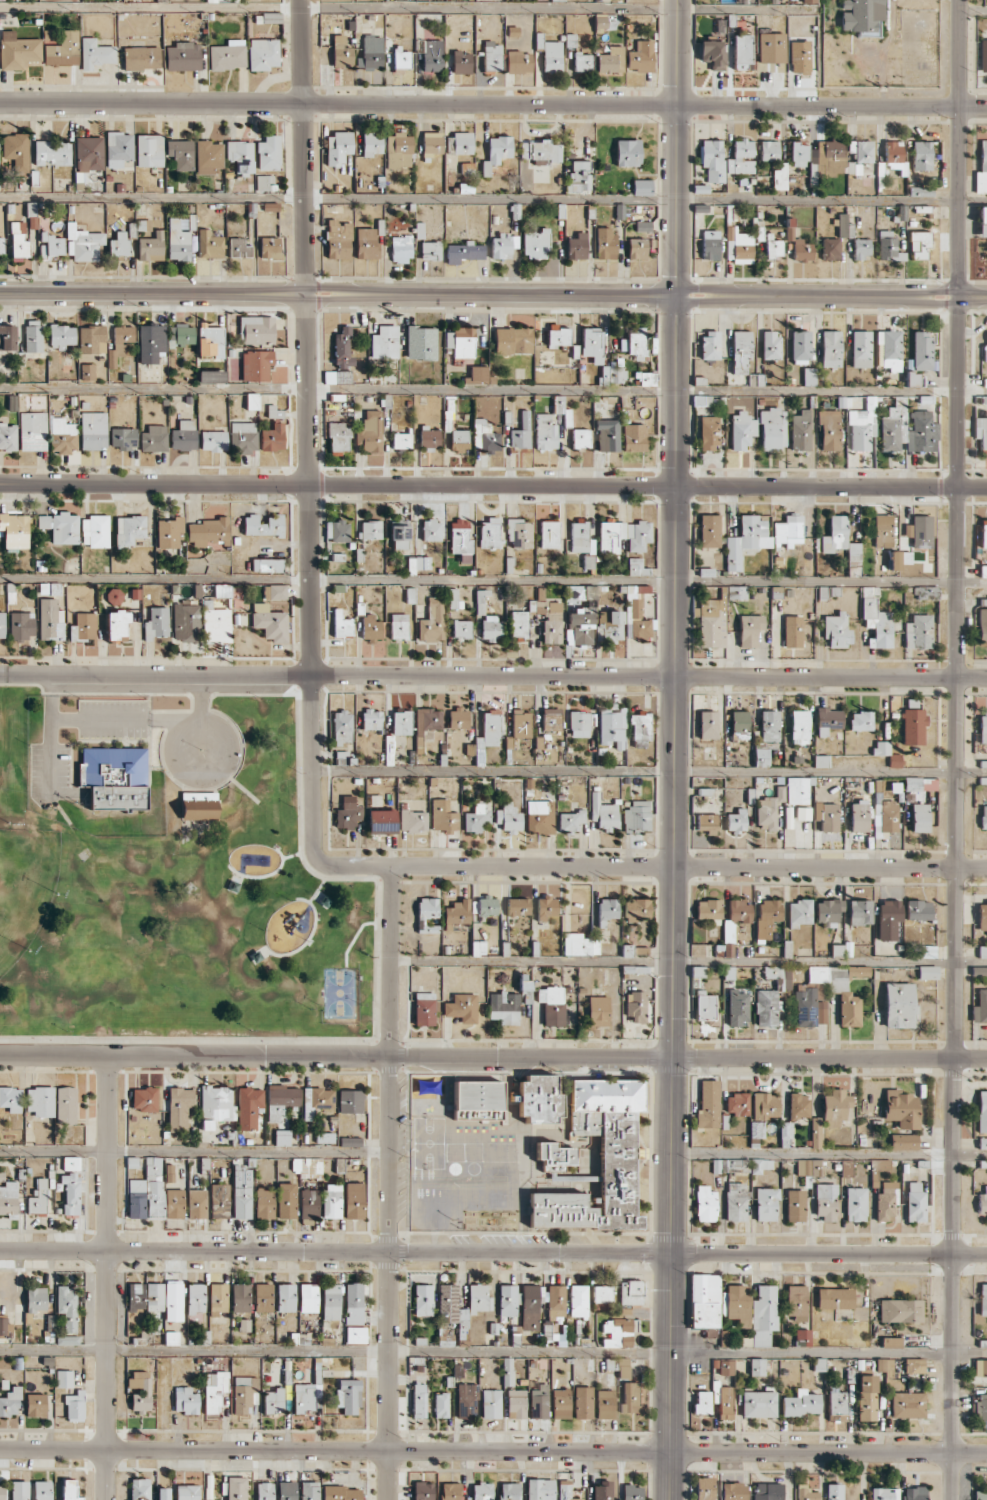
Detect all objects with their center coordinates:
building: (557, 0)
building: (210, 1)
road: (408, 9)
road: (973, 11)
building: (861, 17)
building: (600, 22)
building: (720, 26)
building: (513, 31)
building: (772, 47)
building: (63, 49)
building: (17, 50)
building: (341, 52)
building: (371, 52)
building: (742, 52)
building: (95, 53)
building: (712, 53)
building: (263, 54)
building: (550, 54)
building: (228, 55)
building: (432, 55)
building: (983, 55)
building: (183, 56)
building: (641, 56)
building: (492, 57)
building: (799, 57)
building: (141, 58)
building: (401, 59)
building: (611, 60)
building: (462, 62)
building: (519, 62)
building: (582, 62)
road: (493, 104)
building: (372, 143)
building: (432, 143)
building: (459, 143)
building: (337, 147)
road: (677, 147)
road: (958, 147)
building: (119, 149)
building: (16, 150)
building: (148, 150)
building: (769, 150)
building: (398, 151)
building: (540, 151)
building: (496, 152)
building: (52, 153)
building: (89, 153)
building: (268, 153)
building: (628, 153)
building: (180, 154)
building: (798, 154)
building: (859, 155)
building: (921, 155)
building: (208, 156)
building: (240, 156)
building: (833, 157)
building: (893, 157)
building: (741, 158)
building: (712, 160)
building: (816, 169)
building: (982, 169)
building: (780, 177)
building: (265, 182)
building: (578, 182)
building: (642, 187)
road: (493, 203)
building: (270, 206)
building: (619, 211)
building: (982, 221)
building: (643, 226)
building: (843, 226)
building: (338, 239)
building: (18, 241)
building: (178, 241)
building: (366, 243)
building: (535, 243)
building: (605, 243)
building: (83, 244)
building: (118, 244)
building: (209, 244)
building: (918, 244)
building: (1, 245)
building: (51, 245)
building: (710, 245)
building: (501, 246)
building: (738, 246)
building: (151, 247)
building: (269, 247)
building: (577, 247)
building: (888, 247)
building: (238, 248)
building: (637, 248)
building: (773, 248)
building: (830, 248)
building: (401, 249)
building: (861, 249)
building: (430, 250)
building: (801, 250)
building: (464, 252)
road: (338, 294)
road: (818, 295)
road: (973, 296)
building: (256, 330)
building: (180, 335)
building: (33, 336)
building: (62, 336)
building: (558, 336)
building: (986, 336)
building: (7, 337)
building: (91, 339)
building: (513, 340)
building: (210, 341)
building: (150, 342)
building: (384, 342)
building: (461, 342)
building: (421, 343)
building: (120, 344)
building: (591, 344)
building: (633, 345)
building: (710, 345)
building: (770, 345)
building: (801, 347)
building: (343, 349)
building: (830, 349)
building: (860, 349)
building: (890, 349)
building: (922, 350)
building: (740, 351)
building: (984, 353)
building: (256, 365)
building: (87, 371)
building: (478, 374)
building: (613, 375)
building: (212, 376)
building: (809, 376)
building: (336, 377)
building: (913, 379)
road: (493, 390)
road: (677, 390)
road: (956, 391)
building: (252, 401)
building: (12, 402)
building: (558, 404)
building: (274, 412)
building: (863, 425)
building: (773, 429)
building: (908, 429)
building: (93, 430)
building: (742, 430)
building: (800, 430)
building: (829, 430)
building: (33, 431)
building: (981, 431)
building: (370, 432)
building: (521, 432)
building: (545, 432)
building: (708, 433)
road: (308, 434)
building: (62, 435)
building: (184, 435)
building: (608, 435)
building: (8, 436)
building: (338, 436)
building: (243, 437)
building: (272, 437)
building: (429, 437)
building: (486, 437)
building: (633, 437)
building: (123, 438)
building: (154, 438)
building: (580, 438)
building: (213, 440)
building: (401, 440)
building: (459, 440)
road: (154, 483)
road: (492, 485)
road: (815, 487)
road: (970, 488)
building: (263, 525)
building: (60, 527)
building: (14, 530)
building: (129, 530)
building: (337, 530)
building: (370, 530)
building: (431, 530)
building: (708, 530)
building: (787, 530)
building: (882, 530)
building: (95, 531)
building: (921, 531)
building: (169, 532)
building: (208, 532)
building: (489, 533)
building: (399, 534)
building: (519, 534)
building: (549, 534)
building: (835, 534)
building: (623, 536)
building: (983, 536)
building: (581, 538)
building: (461, 540)
building: (745, 540)
building: (853, 552)
building: (894, 560)
building: (418, 562)
building: (589, 562)
building: (267, 565)
building: (636, 567)
building: (983, 571)
road: (493, 579)
building: (222, 590)
building: (275, 592)
building: (736, 592)
building: (926, 592)
building: (452, 598)
building: (480, 602)
building: (50, 619)
building: (875, 620)
building: (432, 621)
building: (186, 622)
building: (157, 623)
building: (216, 623)
building: (270, 623)
building: (711, 623)
building: (117, 624)
building: (341, 624)
building: (552, 624)
building: (2, 625)
building: (22, 625)
building: (518, 625)
building: (399, 626)
building: (609, 626)
building: (84, 627)
building: (371, 627)
building: (578, 627)
building: (491, 628)
building: (461, 629)
building: (749, 629)
building: (837, 630)
building: (792, 631)
building: (918, 632)
building: (982, 634)
road: (493, 675)
road: (147, 719)
building: (371, 719)
building: (458, 719)
building: (551, 719)
building: (428, 720)
building: (827, 720)
building: (860, 721)
building: (402, 722)
building: (521, 724)
building: (579, 724)
building: (708, 724)
building: (769, 726)
building: (799, 727)
building: (913, 727)
building: (342, 728)
building: (611, 728)
building: (640, 729)
building: (983, 729)
road: (180, 731)
building: (486, 737)
building: (881, 747)
road: (48, 753)
building: (761, 757)
building: (821, 761)
road: (649, 769)
building: (114, 777)
building: (920, 784)
building: (797, 790)
building: (198, 805)
building: (768, 809)
building: (604, 813)
building: (803, 813)
building: (348, 815)
building: (443, 816)
building: (826, 816)
building: (885, 816)
building: (983, 816)
building: (478, 817)
building: (508, 817)
building: (636, 817)
building: (859, 817)
building: (920, 817)
building: (413, 820)
building: (381, 821)
building: (572, 821)
building: (736, 821)
building: (707, 823)
road: (297, 853)
road: (655, 866)
park: (172, 874)
road: (265, 875)
road: (235, 877)
road: (319, 884)
park: (24, 887)
building: (484, 906)
building: (517, 906)
building: (546, 907)
building: (636, 909)
building: (708, 909)
building: (918, 910)
building: (607, 911)
building: (799, 912)
building: (859, 912)
building: (456, 913)
building: (826, 913)
building: (427, 914)
building: (982, 915)
building: (767, 917)
building: (888, 918)
road: (356, 934)
building: (728, 939)
road: (306, 940)
building: (576, 944)
building: (841, 950)
road: (686, 962)
building: (979, 971)
building: (927, 972)
building: (774, 975)
building: (840, 989)
park: (337, 992)
road: (672, 992)
road: (953, 994)
building: (552, 1005)
building: (899, 1005)
building: (635, 1006)
building: (704, 1006)
building: (462, 1007)
building: (504, 1007)
building: (737, 1007)
building: (809, 1007)
building: (980, 1007)
building: (424, 1008)
building: (766, 1008)
building: (598, 1011)
road: (493, 1056)
building: (11, 1098)
building: (144, 1099)
building: (538, 1099)
building: (281, 1100)
building: (477, 1100)
building: (40, 1101)
building: (316, 1101)
building: (350, 1101)
building: (708, 1103)
building: (737, 1104)
building: (66, 1105)
building: (216, 1105)
building: (798, 1105)
building: (765, 1106)
building: (180, 1107)
building: (249, 1107)
building: (834, 1108)
building: (901, 1109)
building: (982, 1111)
building: (757, 1130)
building: (815, 1133)
building: (785, 1134)
building: (282, 1137)
building: (325, 1137)
building: (350, 1141)
building: (903, 1142)
building: (982, 1143)
road: (194, 1151)
road: (829, 1152)
building: (553, 1156)
building: (71, 1163)
building: (616, 1163)
building: (984, 1163)
building: (761, 1165)
building: (803, 1167)
road: (388, 1182)
building: (154, 1187)
building: (242, 1191)
building: (70, 1193)
building: (8, 1198)
building: (136, 1198)
building: (38, 1199)
building: (218, 1200)
building: (286, 1200)
building: (332, 1201)
building: (354, 1201)
building: (735, 1201)
building: (825, 1201)
building: (885, 1202)
building: (915, 1202)
building: (982, 1202)
building: (174, 1203)
building: (196, 1203)
building: (264, 1203)
building: (309, 1204)
building: (705, 1204)
building: (766, 1204)
building: (855, 1204)
building: (795, 1205)
road: (493, 1252)
road: (107, 1277)
building: (631, 1293)
building: (602, 1294)
building: (136, 1296)
building: (154, 1296)
building: (240, 1297)
building: (263, 1297)
building: (285, 1297)
building: (308, 1297)
building: (196, 1298)
building: (834, 1298)
building: (36, 1299)
building: (218, 1299)
building: (479, 1299)
building: (423, 1300)
building: (508, 1300)
building: (331, 1301)
building: (556, 1301)
building: (578, 1301)
building: (704, 1301)
building: (173, 1302)
building: (795, 1302)
building: (353, 1303)
building: (737, 1304)
building: (67, 1307)
building: (530, 1307)
building: (452, 1308)
building: (900, 1310)
building: (762, 1315)
building: (4, 1326)
building: (617, 1333)
building: (356, 1334)
building: (171, 1338)
building: (802, 1338)
building: (891, 1342)
road: (493, 1352)
building: (914, 1365)
building: (757, 1366)
building: (885, 1366)
building: (726, 1367)
building: (623, 1368)
building: (980, 1368)
building: (507, 1371)
building: (64, 1378)
building: (145, 1390)
building: (214, 1390)
building: (244, 1394)
building: (348, 1396)
building: (303, 1397)
building: (630, 1397)
building: (866, 1397)
building: (186, 1400)
building: (274, 1400)
building: (419, 1400)
building: (467, 1400)
building: (538, 1400)
building: (10, 1402)
building: (583, 1402)
building: (725, 1402)
building: (515, 1403)
building: (560, 1403)
building: (702, 1403)
building: (490, 1404)
building: (605, 1404)
building: (758, 1404)
building: (801, 1404)
building: (836, 1404)
building: (35, 1405)
building: (441, 1405)
building: (907, 1405)
building: (75, 1406)
building: (981, 1407)
road: (493, 1450)
building: (236, 1488)
building: (704, 1488)
building: (139, 1489)
building: (540, 1489)
building: (2, 1490)
building: (19, 1490)
building: (42, 1490)
building: (69, 1490)
building: (287, 1490)
building: (309, 1490)
building: (602, 1490)
building: (264, 1491)
building: (423, 1491)
building: (450, 1491)
building: (481, 1491)
building: (509, 1491)
building: (568, 1491)
building: (734, 1491)
building: (767, 1491)
building: (834, 1491)
building: (187, 1492)
building: (632, 1492)
building: (162, 1493)
building: (341, 1493)
building: (805, 1493)
building: (915, 1493)
building: (885, 1494)
building: (981, 1495)

